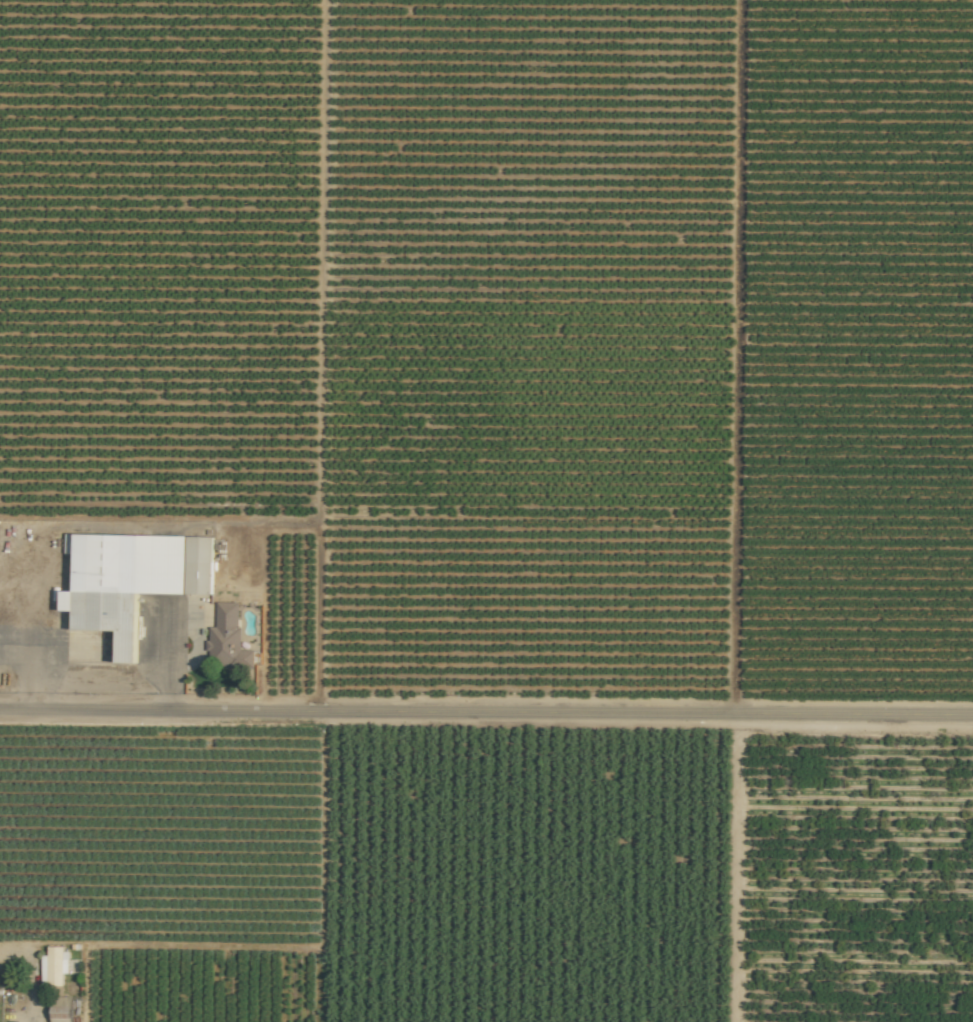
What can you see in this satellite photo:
building: (135, 582)
building: (227, 636)
road: (168, 661)
road: (22, 662)
road: (93, 678)
road: (486, 711)
building: (58, 968)
road: (33, 972)
building: (61, 1010)

